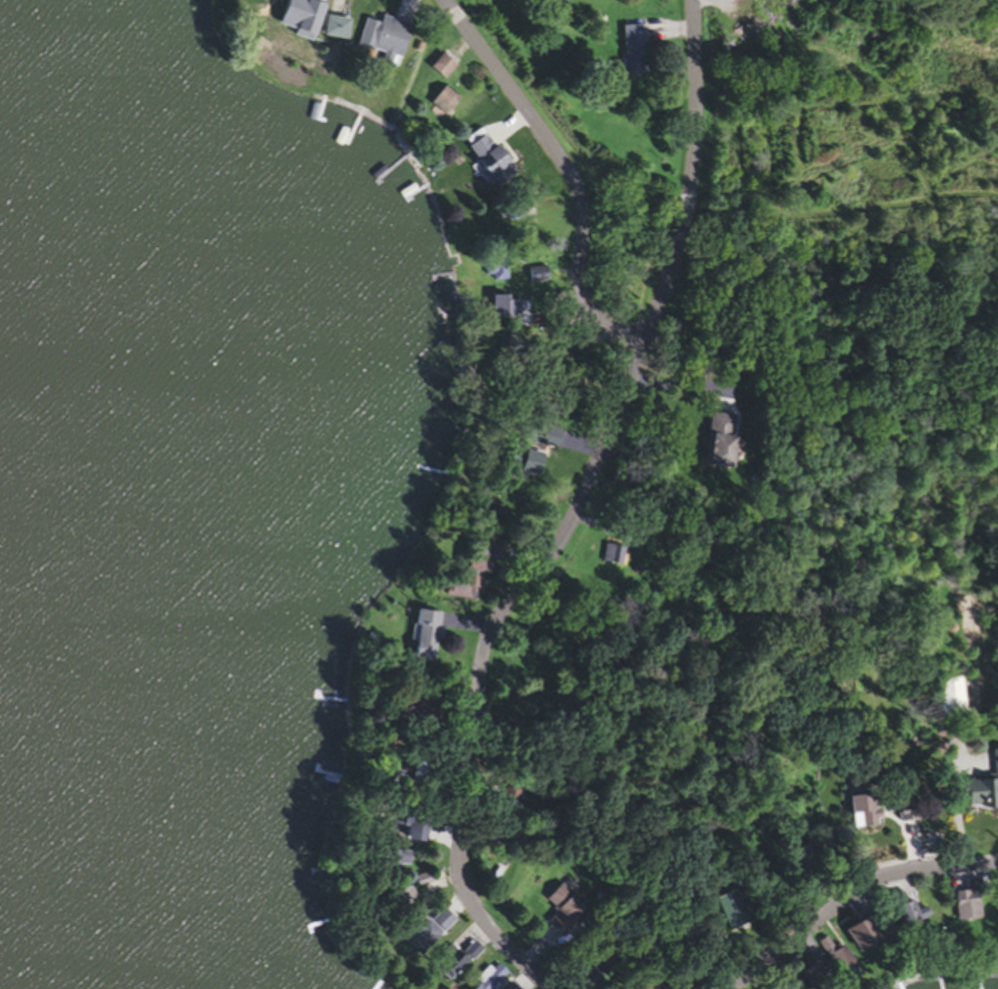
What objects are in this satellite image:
building: (263, 0)
building: (278, 17)
building: (306, 17)
building: (334, 29)
building: (383, 40)
building: (632, 53)
building: (442, 69)
building: (442, 103)
building: (489, 163)
road: (567, 170)
building: (505, 226)
building: (496, 270)
building: (538, 277)
building: (504, 309)
road: (684, 383)
building: (716, 443)
road: (572, 515)
building: (609, 559)
building: (461, 578)
building: (416, 638)
building: (948, 699)
building: (408, 777)
building: (981, 790)
building: (503, 798)
building: (859, 811)
building: (387, 862)
building: (801, 862)
building: (411, 885)
road: (850, 893)
building: (550, 912)
building: (903, 912)
building: (724, 914)
building: (422, 931)
building: (864, 932)
building: (834, 959)
building: (591, 963)
building: (448, 964)
building: (487, 981)

